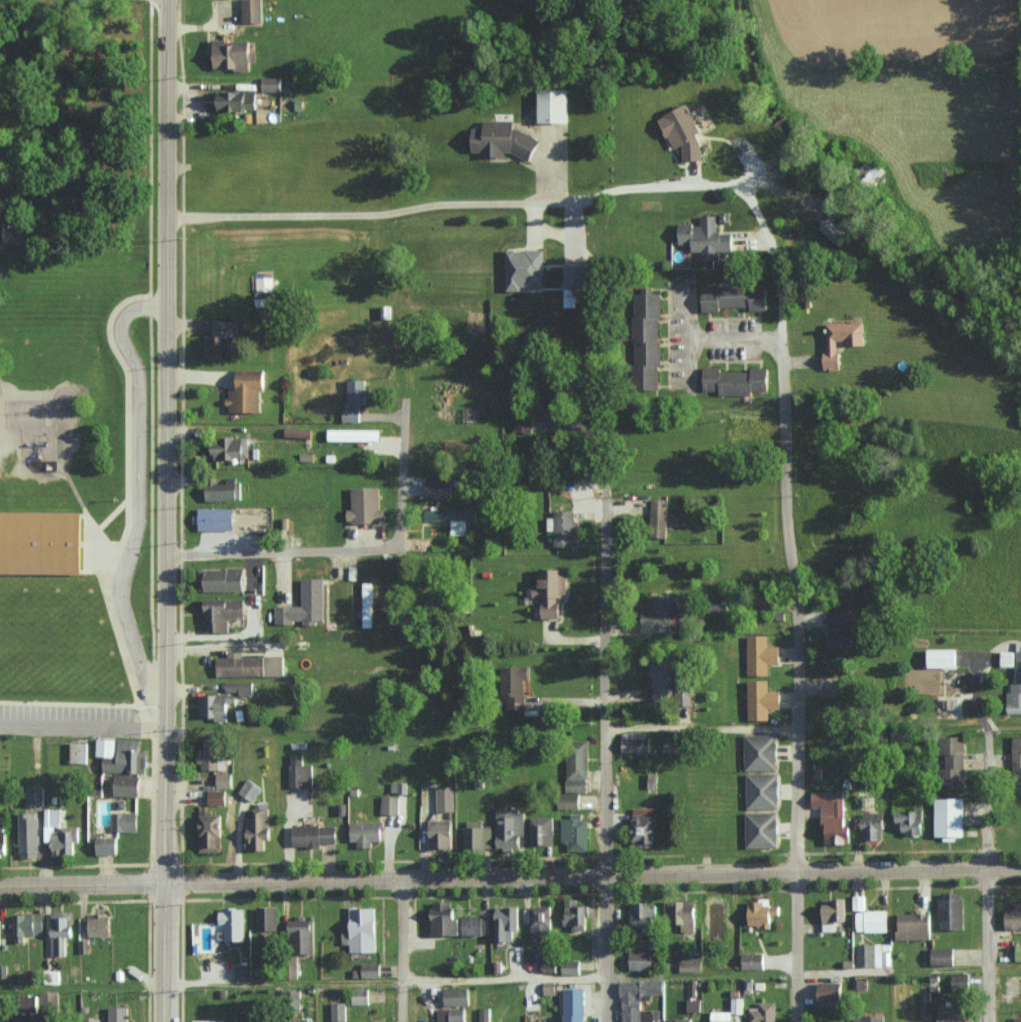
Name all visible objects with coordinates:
building: (252, 11)
building: (232, 55)
building: (272, 84)
building: (237, 101)
building: (554, 105)
building: (684, 132)
building: (503, 140)
road: (404, 147)
road: (502, 204)
building: (834, 231)
building: (12, 233)
road: (558, 238)
building: (707, 239)
building: (525, 269)
building: (574, 276)
building: (735, 297)
road: (283, 324)
building: (224, 328)
parking lot: (678, 335)
parking lot: (736, 339)
building: (648, 341)
road: (736, 341)
building: (220, 347)
building: (833, 349)
building: (735, 381)
building: (248, 392)
building: (355, 400)
building: (523, 421)
building: (354, 434)
building: (231, 448)
road: (135, 483)
road: (400, 485)
building: (439, 487)
building: (222, 490)
building: (366, 506)
road: (165, 510)
building: (659, 512)
building: (216, 519)
building: (454, 519)
building: (563, 528)
building: (40, 543)
road: (277, 553)
building: (222, 580)
building: (552, 591)
building: (367, 604)
building: (305, 605)
building: (222, 613)
road: (769, 613)
building: (660, 614)
building: (844, 630)
road: (216, 646)
road: (796, 647)
building: (761, 655)
building: (943, 657)
building: (249, 665)
building: (1017, 678)
building: (662, 680)
building: (515, 687)
building: (240, 688)
building: (684, 692)
building: (762, 699)
building: (213, 706)
parking lot: (69, 710)
road: (82, 722)
road: (701, 729)
building: (636, 744)
building: (106, 747)
building: (78, 752)
building: (761, 752)
building: (127, 757)
building: (1017, 758)
building: (953, 760)
road: (604, 761)
building: (272, 764)
building: (577, 765)
building: (299, 772)
building: (223, 779)
building: (127, 785)
building: (250, 789)
building: (762, 790)
building: (35, 794)
building: (217, 797)
building: (445, 798)
building: (568, 801)
building: (389, 804)
building: (833, 815)
building: (951, 817)
building: (911, 820)
building: (124, 821)
building: (644, 825)
building: (258, 827)
building: (509, 828)
building: (761, 829)
building: (541, 830)
building: (28, 832)
building: (58, 832)
building: (210, 832)
building: (364, 832)
building: (574, 832)
building: (441, 833)
building: (477, 834)
building: (313, 835)
building: (2, 841)
building: (106, 845)
road: (985, 854)
road: (510, 876)
building: (859, 902)
building: (952, 912)
building: (575, 913)
building: (681, 914)
building: (761, 914)
building: (831, 914)
building: (1013, 916)
building: (267, 918)
building: (444, 918)
building: (541, 920)
building: (873, 920)
building: (506, 921)
building: (233, 923)
building: (27, 925)
building: (99, 925)
building: (914, 925)
building: (476, 926)
building: (361, 929)
building: (60, 931)
building: (302, 934)
building: (0, 936)
road: (400, 951)
building: (1018, 952)
building: (872, 955)
building: (942, 955)
building: (641, 960)
building: (752, 961)
building: (690, 964)
building: (548, 966)
building: (571, 967)
building: (371, 970)
building: (243, 972)
road: (502, 978)
road: (280, 982)
building: (961, 983)
building: (830, 993)
building: (360, 996)
building: (456, 996)
building: (637, 999)
building: (49, 1001)
building: (30, 1002)
building: (925, 1004)
building: (576, 1005)
building: (693, 1005)
building: (737, 1005)
building: (338, 1011)
building: (764, 1012)
building: (118, 1014)
building: (452, 1014)
building: (484, 1014)
building: (956, 1014)
building: (723, 1016)
building: (869, 1018)
building: (1017, 1019)
building: (210, 1020)
building: (680, 1020)

